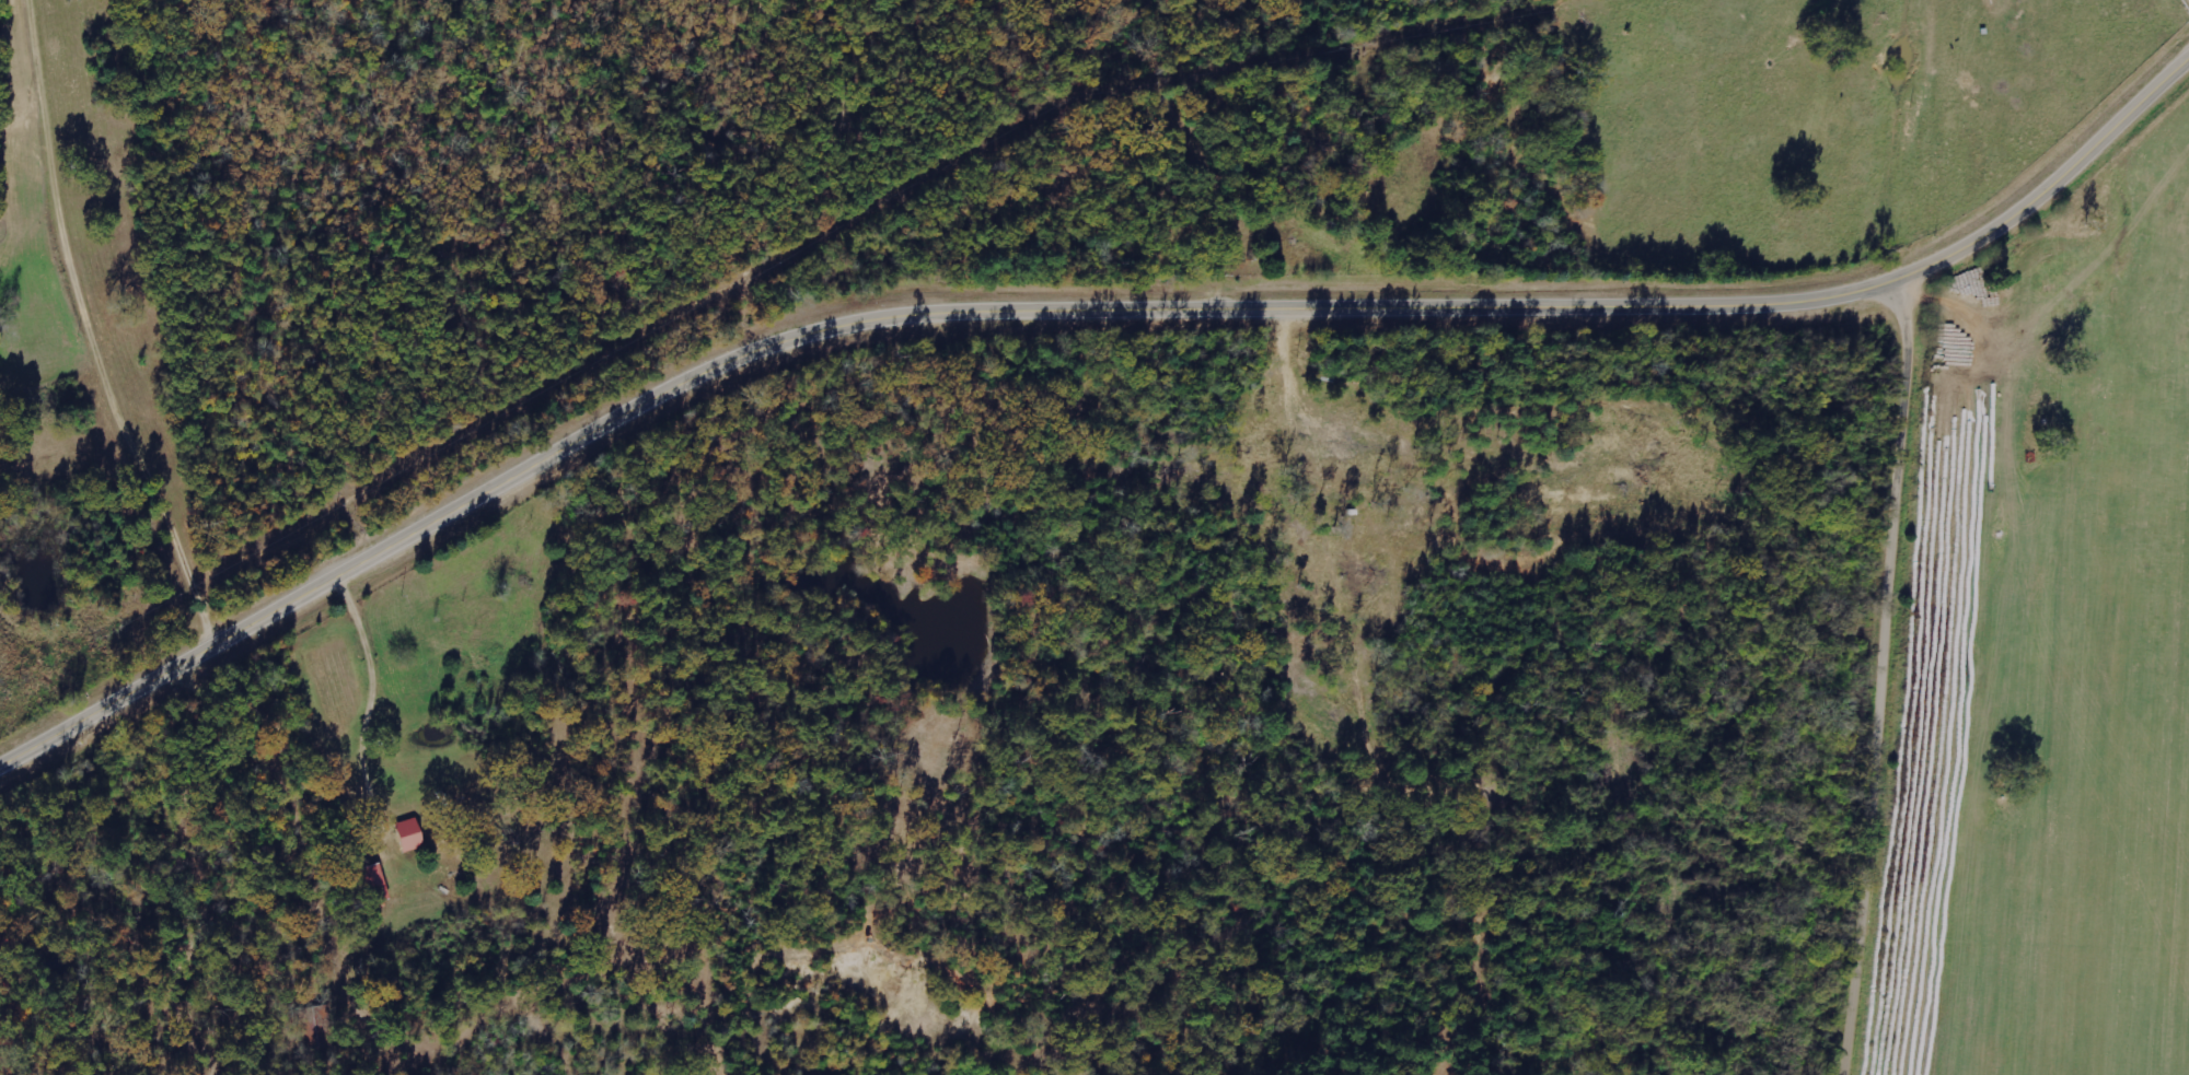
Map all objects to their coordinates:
road: (1078, 311)
road: (1676, 675)
building: (406, 836)
building: (372, 883)

